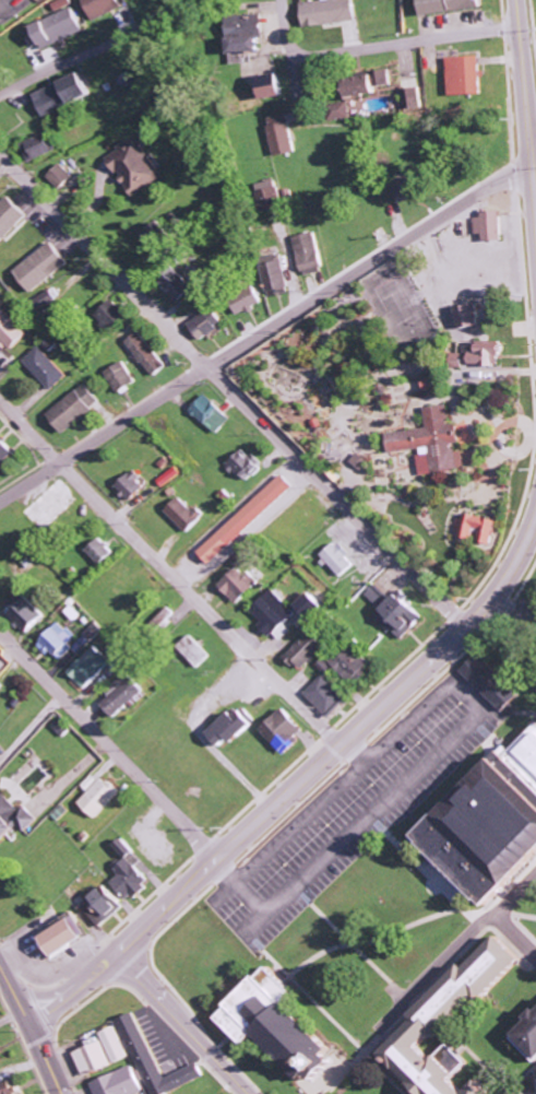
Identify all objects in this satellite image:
building: (451, 5)
building: (103, 7)
building: (329, 12)
building: (60, 27)
road: (285, 28)
building: (246, 34)
road: (401, 44)
building: (467, 75)
building: (369, 84)
building: (274, 86)
road: (295, 87)
building: (63, 94)
building: (413, 98)
building: (355, 103)
building: (344, 111)
building: (281, 134)
building: (39, 146)
building: (134, 166)
building: (60, 177)
building: (270, 196)
building: (10, 217)
building: (490, 226)
building: (162, 237)
building: (308, 254)
building: (41, 267)
building: (275, 279)
building: (179, 287)
building: (248, 299)
building: (49, 301)
building: (471, 316)
building: (110, 317)
building: (207, 324)
building: (11, 329)
road: (259, 333)
building: (488, 353)
building: (146, 354)
building: (45, 368)
building: (120, 377)
road: (226, 388)
building: (75, 408)
building: (211, 414)
building: (434, 443)
building: (5, 454)
building: (243, 466)
building: (131, 486)
building: (183, 514)
building: (247, 519)
building: (477, 528)
building: (100, 552)
building: (340, 558)
road: (167, 569)
building: (239, 585)
road: (474, 599)
road: (510, 599)
building: (312, 607)
building: (273, 613)
building: (395, 613)
building: (27, 615)
building: (57, 640)
building: (307, 650)
building: (90, 667)
building: (324, 683)
building: (492, 683)
building: (122, 697)
road: (464, 727)
building: (233, 729)
building: (284, 731)
road: (105, 744)
road: (352, 748)
building: (0, 760)
building: (102, 797)
building: (13, 817)
building: (496, 824)
building: (132, 872)
road: (533, 877)
building: (103, 907)
building: (65, 938)
road: (11, 990)
road: (177, 1021)
building: (282, 1022)
building: (450, 1026)
building: (531, 1034)
building: (117, 1044)
road: (41, 1054)
building: (1, 1055)
building: (95, 1059)
building: (156, 1060)
building: (120, 1083)
building: (8, 1089)

